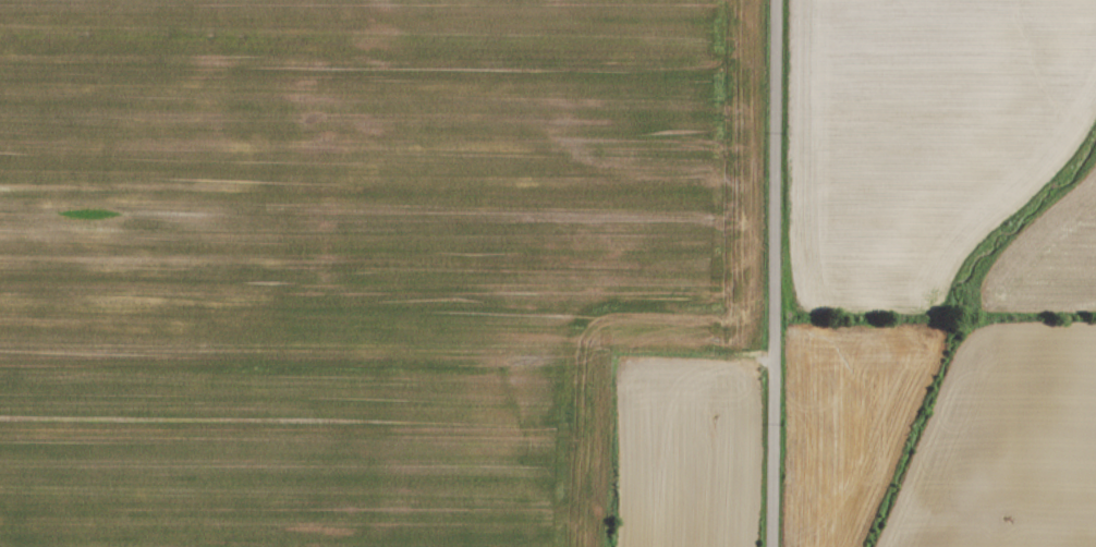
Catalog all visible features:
road: (772, 273)

